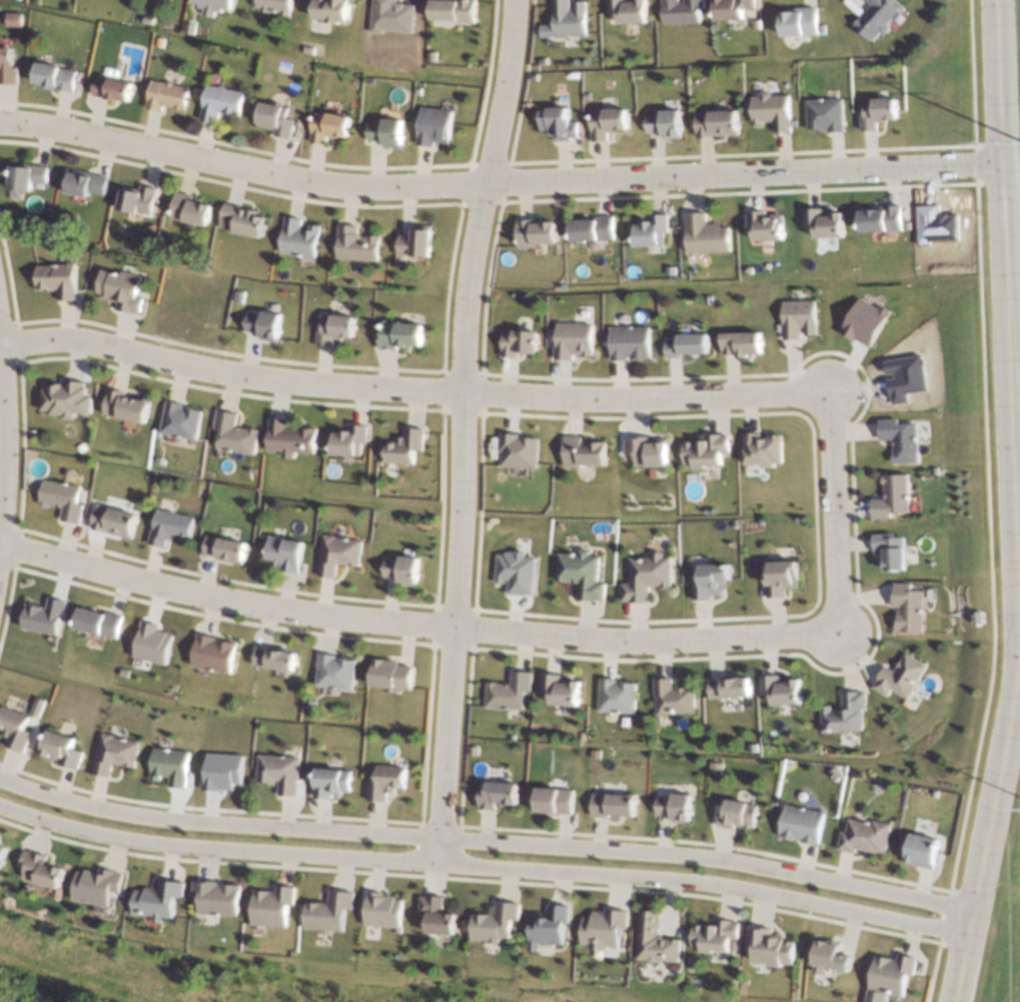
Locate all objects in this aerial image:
building: (213, 6)
building: (275, 6)
building: (730, 9)
building: (332, 10)
building: (452, 10)
building: (680, 11)
building: (391, 16)
building: (875, 18)
building: (13, 19)
building: (566, 19)
building: (798, 22)
building: (6, 67)
building: (54, 77)
building: (112, 88)
building: (165, 95)
building: (220, 102)
park: (1016, 109)
building: (771, 110)
building: (876, 112)
building: (824, 114)
building: (275, 119)
building: (606, 122)
building: (715, 123)
building: (558, 124)
building: (663, 124)
building: (432, 126)
building: (328, 127)
building: (384, 132)
building: (25, 176)
building: (82, 183)
road: (496, 183)
building: (136, 199)
building: (191, 209)
building: (879, 218)
building: (242, 221)
building: (823, 222)
building: (765, 226)
building: (590, 229)
building: (649, 231)
building: (534, 232)
building: (704, 234)
building: (298, 237)
building: (415, 242)
building: (356, 244)
building: (57, 279)
building: (121, 290)
building: (797, 319)
building: (863, 322)
building: (263, 325)
building: (334, 328)
building: (400, 335)
building: (571, 340)
building: (517, 342)
building: (627, 342)
building: (739, 343)
building: (685, 345)
building: (903, 377)
road: (406, 393)
building: (65, 399)
building: (127, 407)
road: (0, 420)
building: (180, 420)
road: (457, 430)
building: (234, 434)
building: (290, 438)
building: (348, 440)
building: (898, 440)
building: (404, 446)
building: (760, 449)
building: (517, 451)
building: (646, 451)
building: (704, 451)
building: (583, 452)
building: (890, 497)
building: (60, 499)
road: (1010, 504)
road: (825, 511)
building: (112, 521)
building: (168, 527)
building: (223, 549)
building: (889, 550)
building: (283, 553)
building: (336, 554)
building: (400, 570)
building: (514, 572)
building: (579, 574)
building: (645, 576)
building: (780, 577)
building: (708, 581)
building: (907, 608)
building: (43, 616)
building: (96, 622)
road: (411, 625)
building: (152, 643)
building: (213, 653)
building: (274, 658)
building: (334, 672)
building: (389, 674)
building: (899, 677)
building: (728, 687)
building: (560, 689)
building: (784, 690)
building: (508, 691)
building: (616, 696)
building: (672, 698)
building: (843, 714)
building: (13, 729)
building: (58, 749)
building: (112, 753)
building: (168, 767)
building: (220, 771)
building: (277, 772)
building: (330, 782)
building: (384, 782)
building: (497, 794)
building: (554, 800)
building: (613, 804)
building: (736, 814)
building: (799, 824)
building: (861, 836)
road: (481, 842)
building: (0, 845)
building: (919, 850)
building: (2, 856)
road: (478, 867)
building: (40, 870)
building: (96, 886)
building: (216, 897)
building: (157, 899)
building: (271, 906)
building: (328, 911)
building: (383, 911)
park: (1001, 911)
building: (438, 915)
building: (495, 922)
building: (549, 927)
building: (604, 928)
building: (716, 936)
building: (655, 940)
building: (769, 946)
building: (829, 957)
building: (888, 976)
park: (217, 979)

